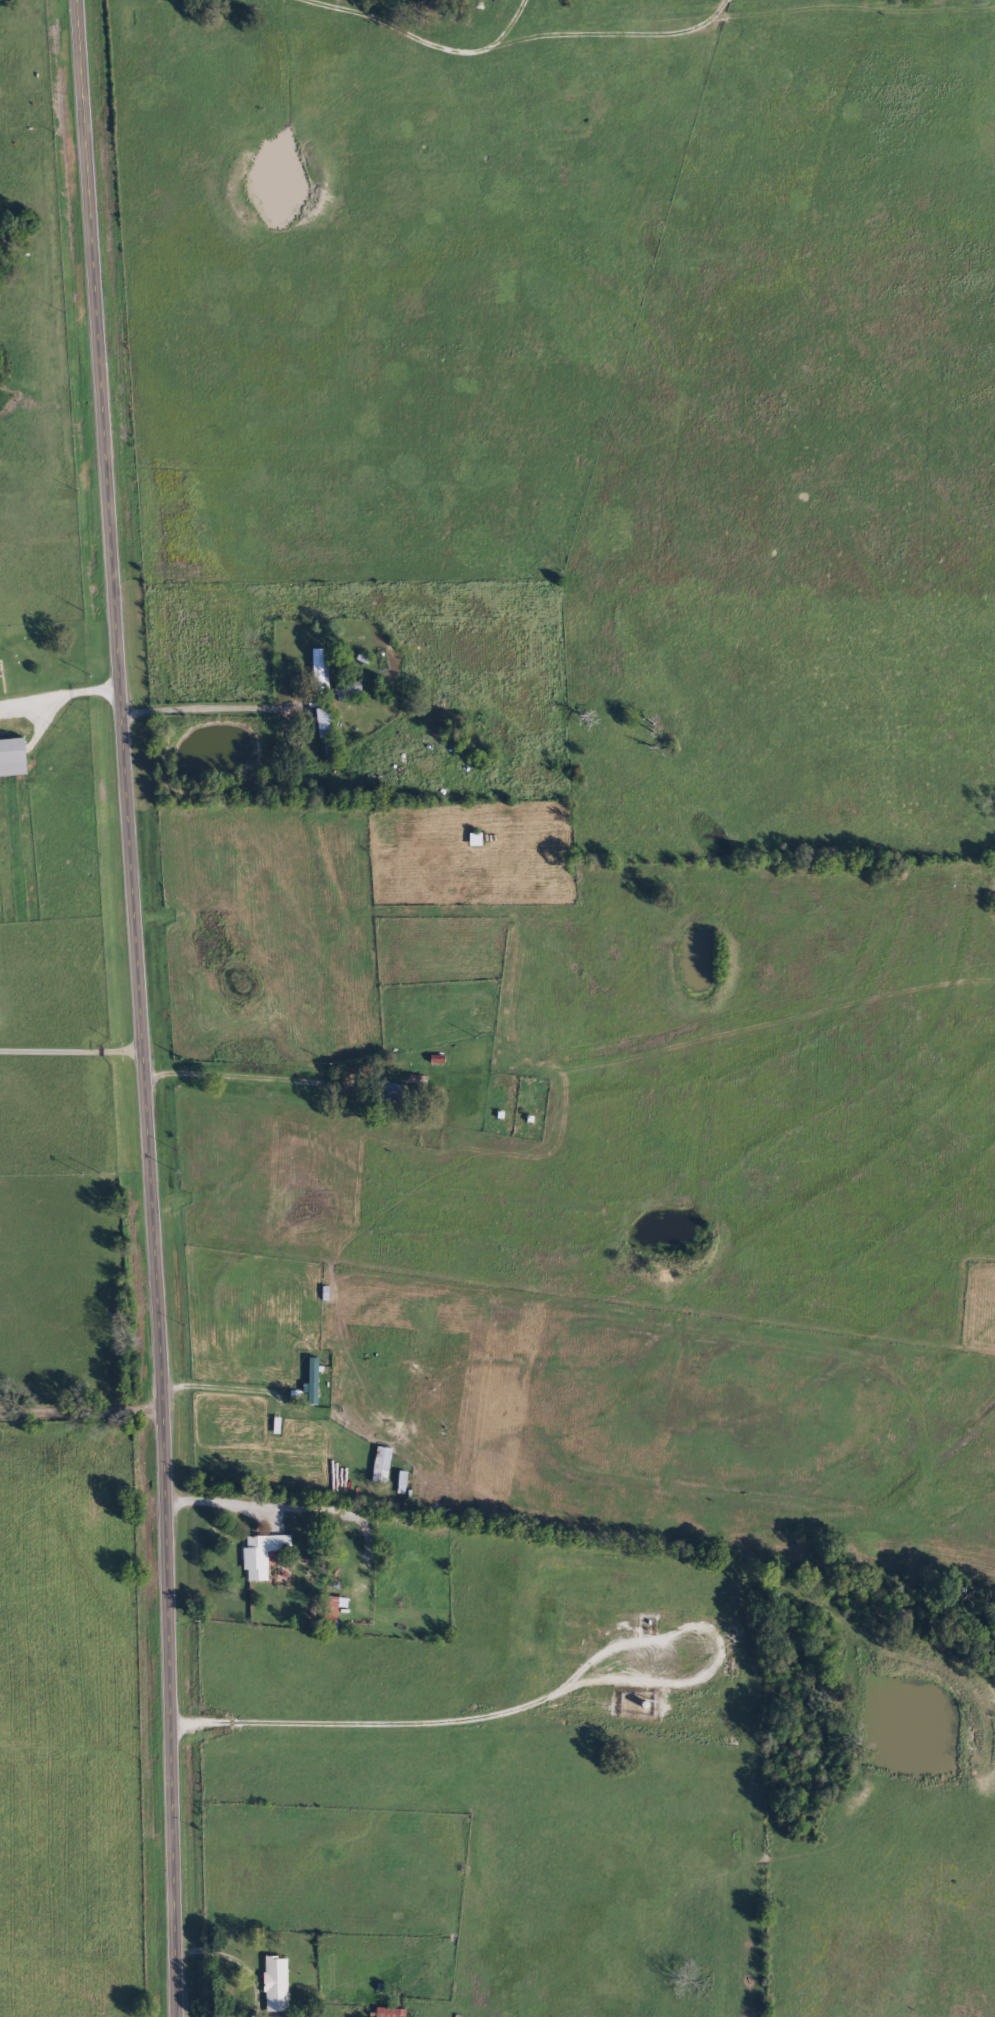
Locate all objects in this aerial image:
building: (0, 650)
building: (322, 674)
building: (351, 691)
road: (55, 705)
building: (327, 723)
building: (15, 758)
road: (133, 1008)
building: (392, 1093)
building: (384, 1466)
building: (265, 1556)
building: (340, 1606)
building: (279, 1985)
road: (240, 1999)
building: (393, 2013)

